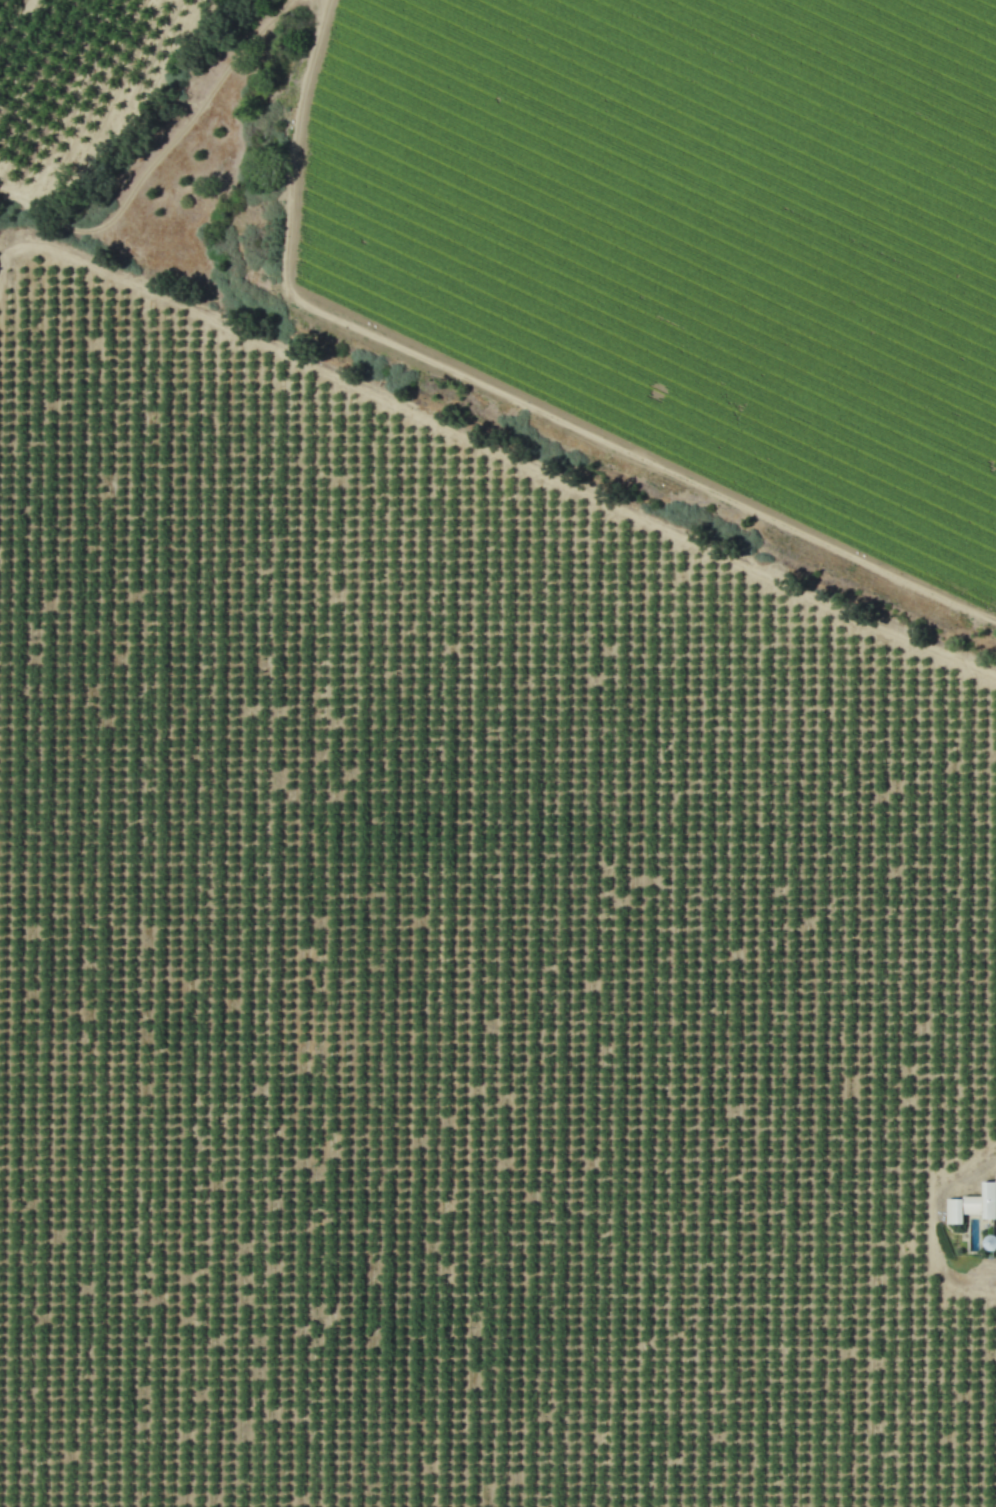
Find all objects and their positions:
building: (973, 1205)

